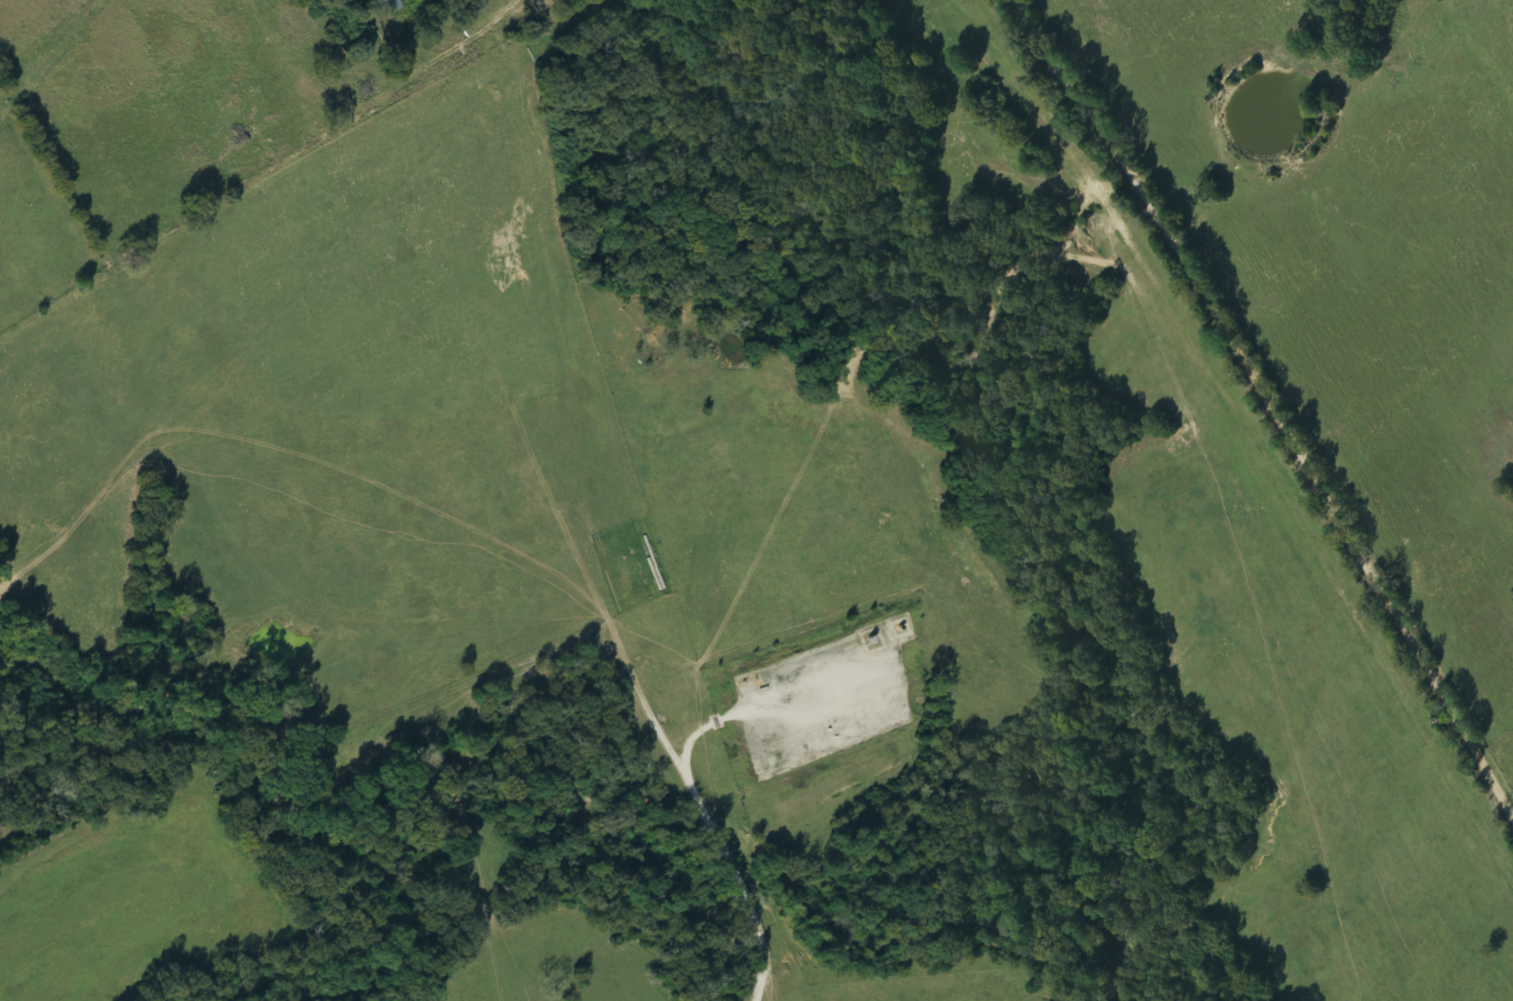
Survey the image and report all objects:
building: (390, 5)
road: (1269, 411)

